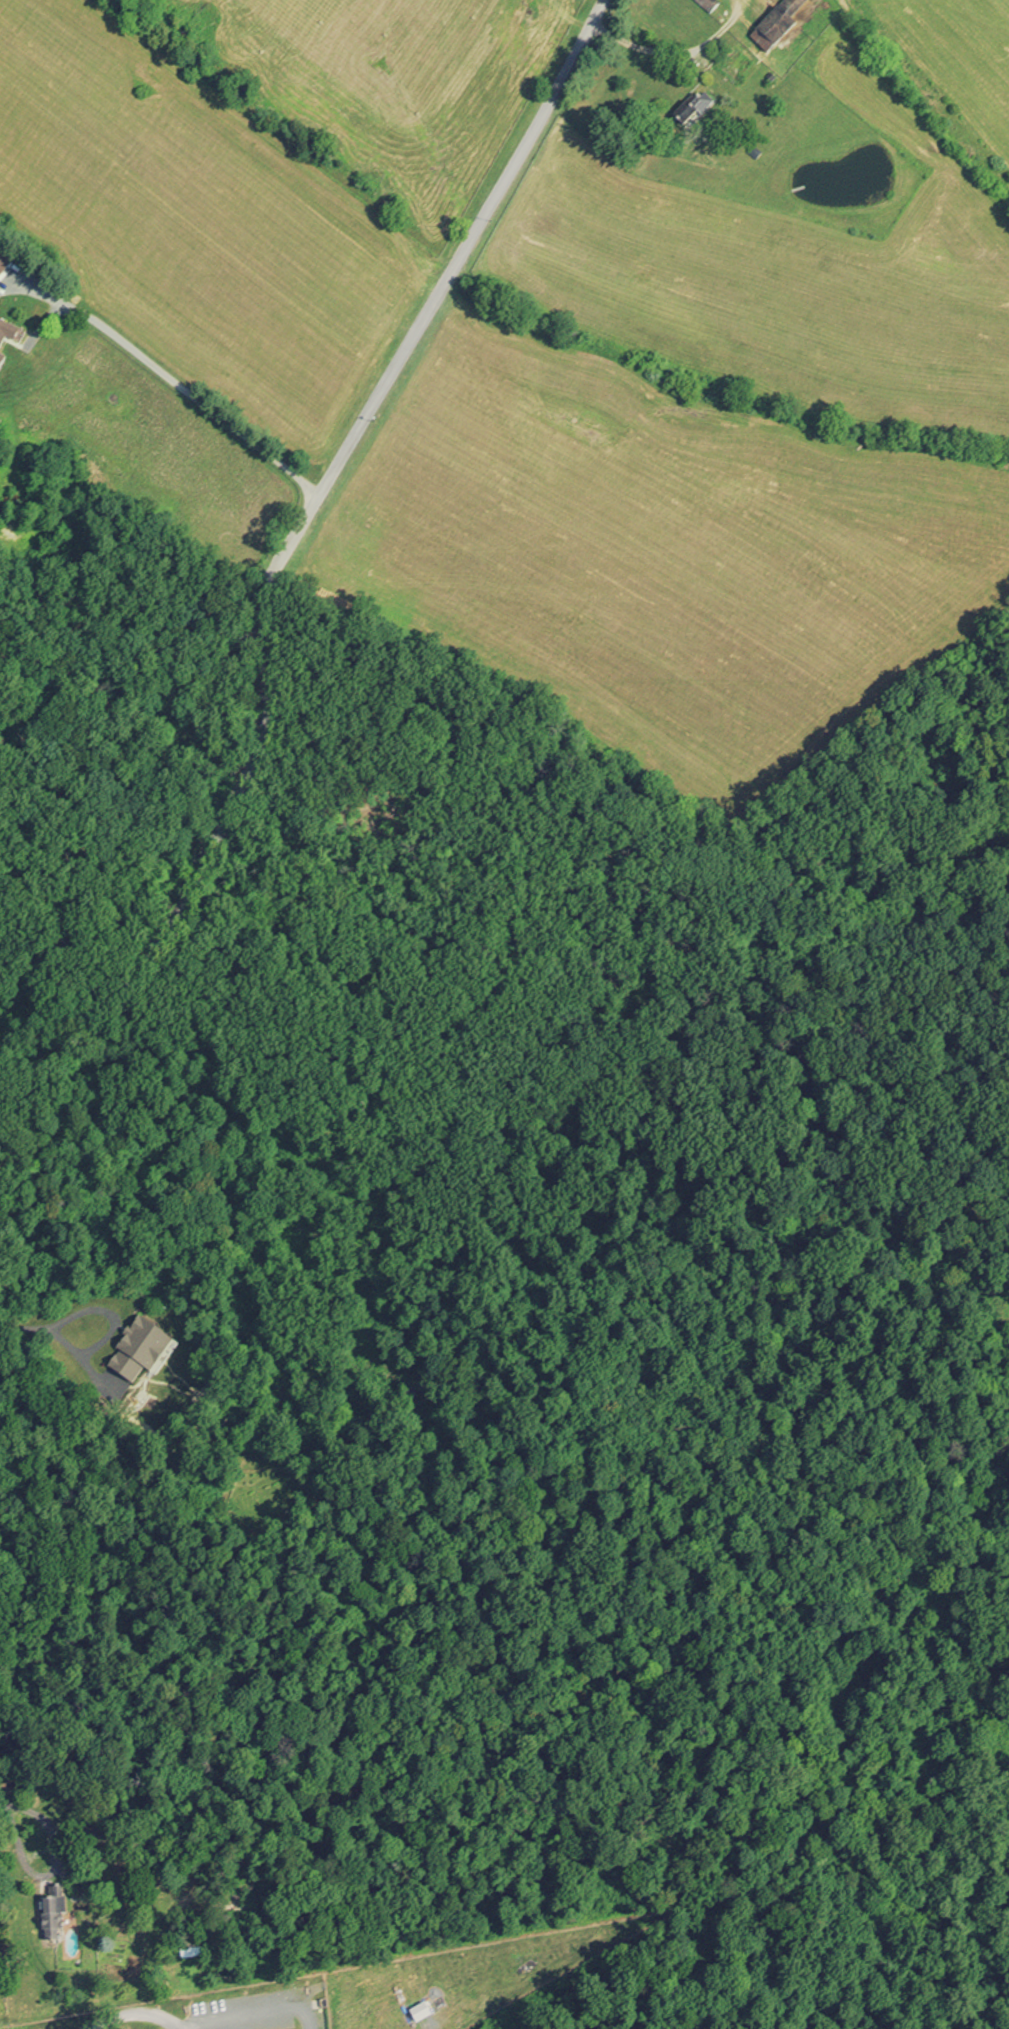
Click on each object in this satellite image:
building: (716, 6)
road: (610, 34)
road: (699, 43)
building: (707, 113)
building: (7, 261)
building: (11, 330)
road: (171, 393)
road: (276, 563)
road: (24, 1328)
road: (109, 1329)
road: (50, 1869)
building: (59, 1918)

